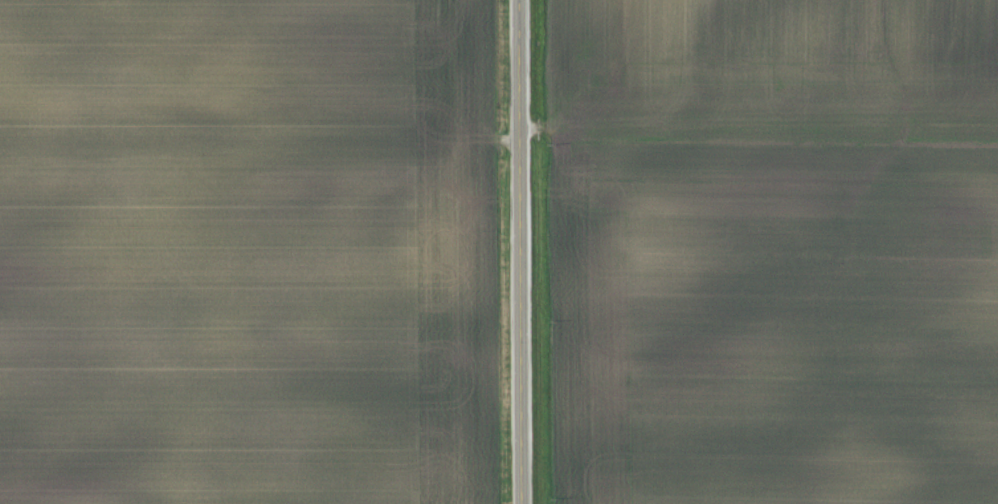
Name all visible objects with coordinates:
road: (519, 252)

